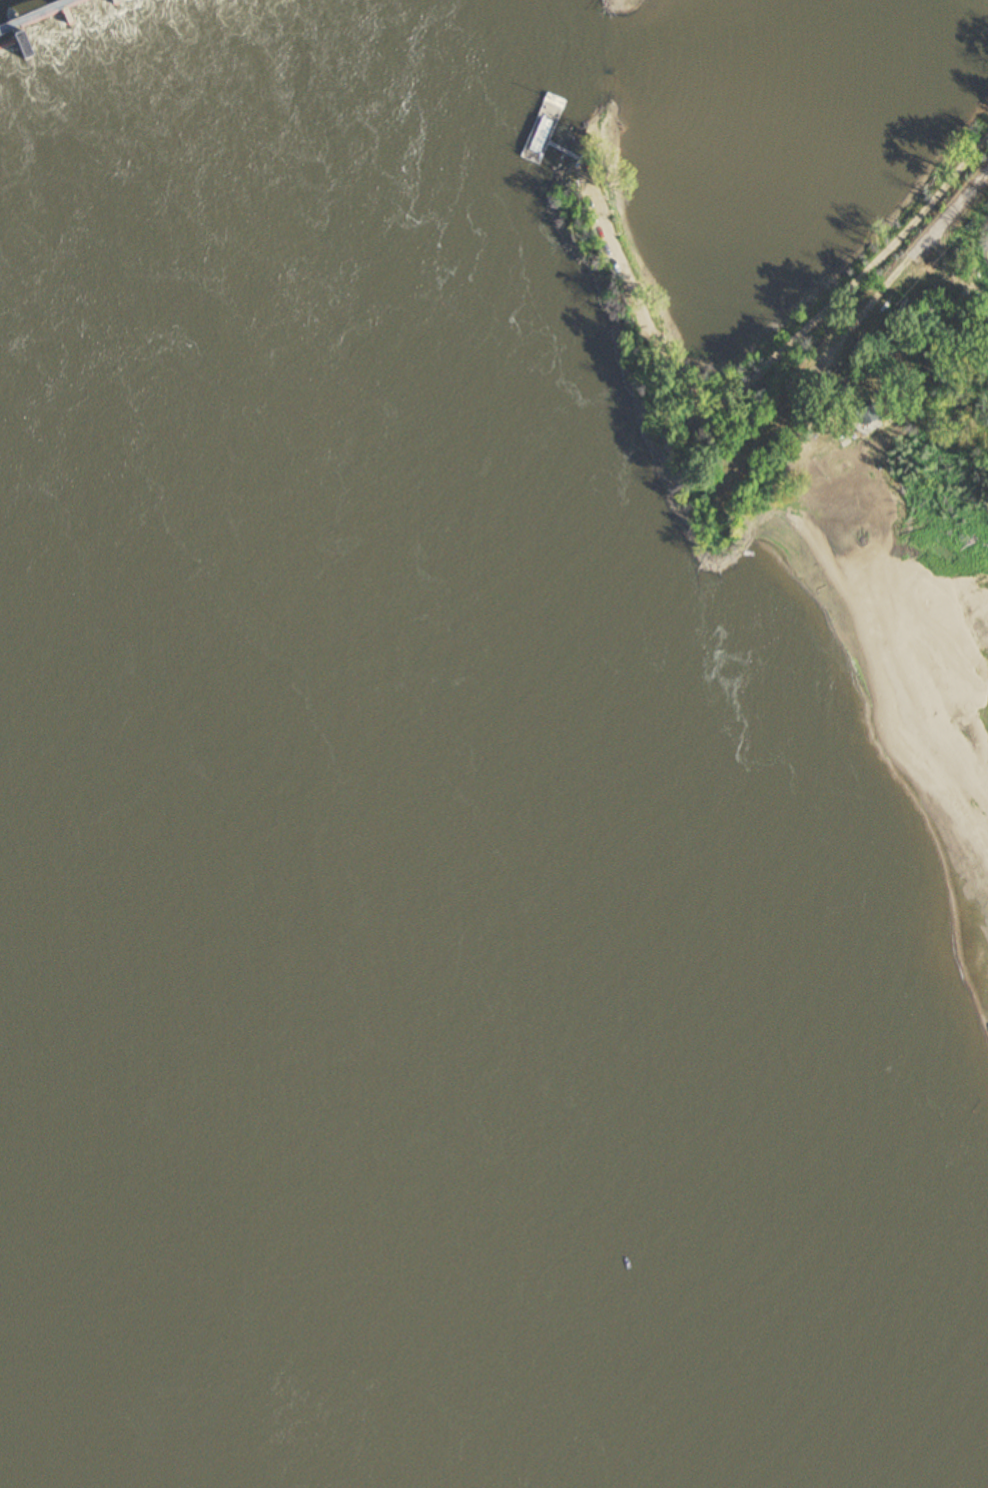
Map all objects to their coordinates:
dam: (39, 24)
road: (959, 201)
road: (959, 269)
road: (646, 318)
road: (831, 349)

